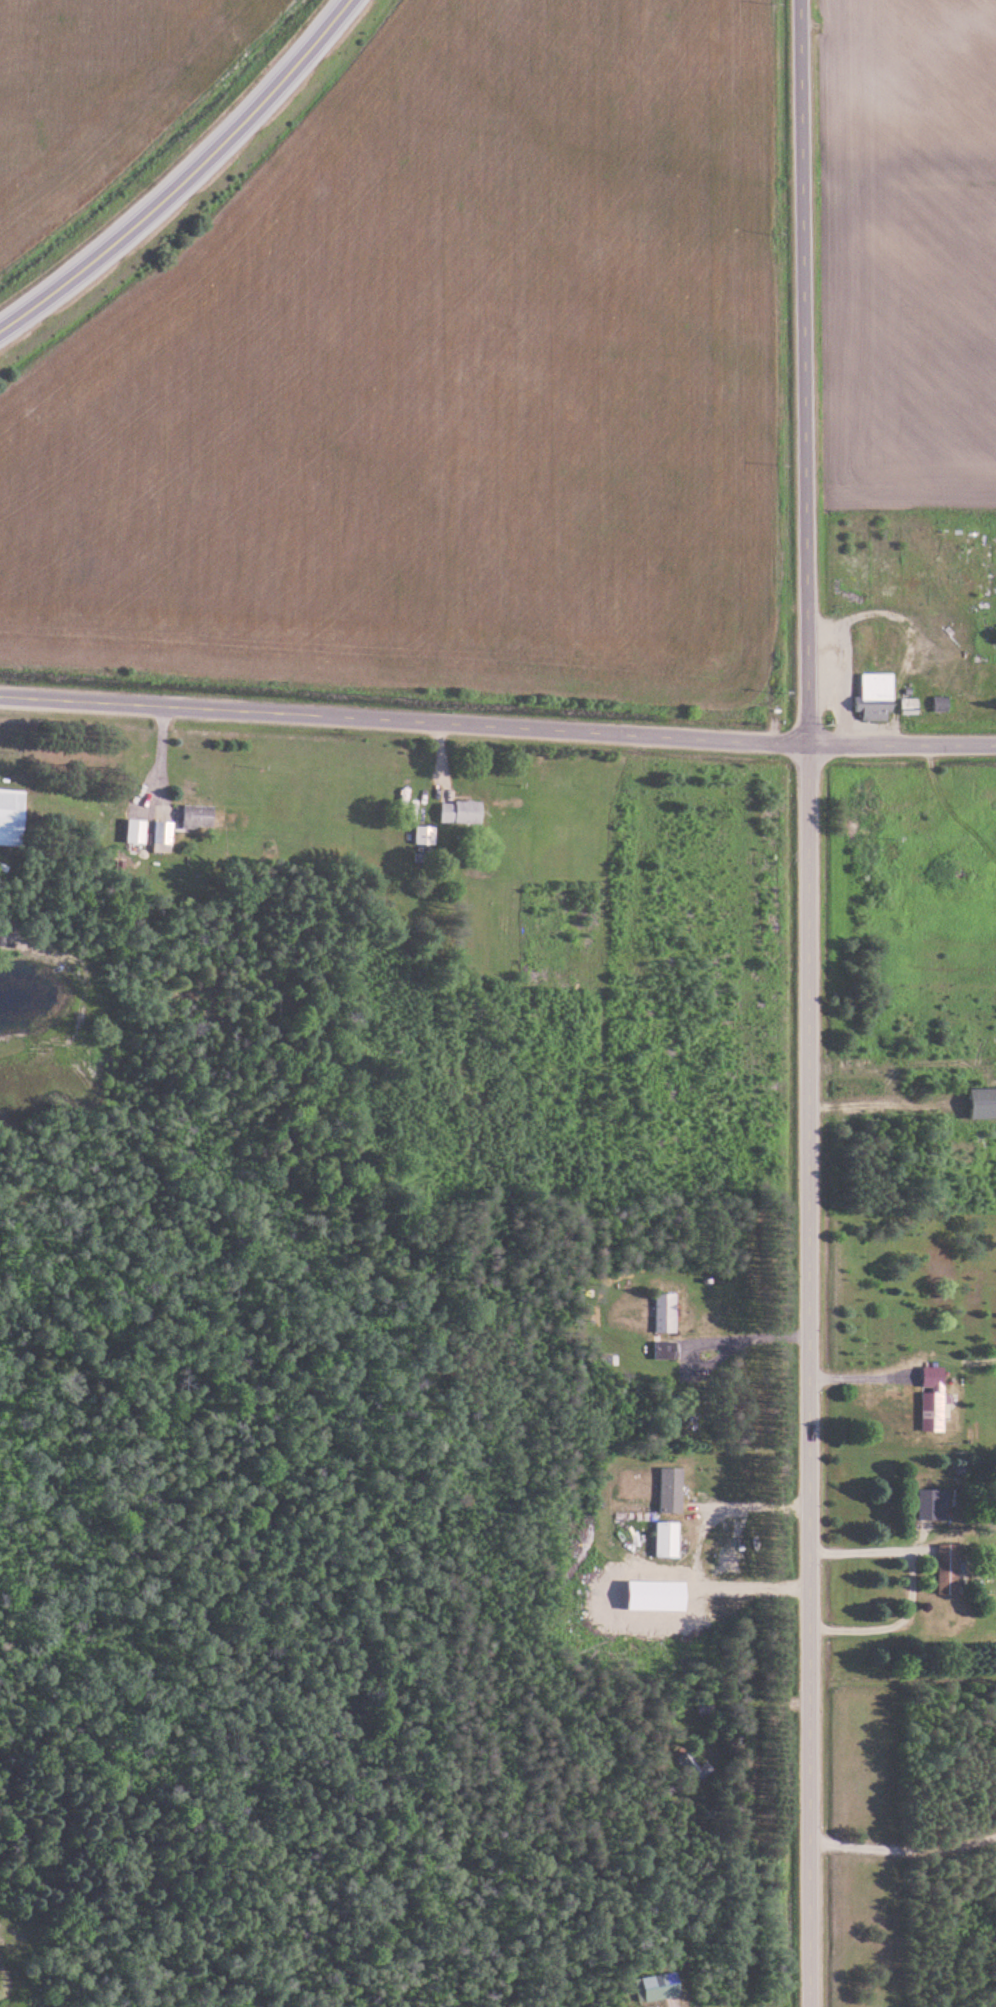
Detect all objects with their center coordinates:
road: (187, 177)
building: (876, 698)
building: (941, 705)
building: (910, 708)
road: (497, 727)
building: (462, 812)
building: (198, 816)
building: (12, 817)
building: (137, 830)
building: (426, 835)
building: (164, 836)
road: (811, 1003)
building: (982, 1095)
building: (666, 1313)
road: (715, 1338)
building: (665, 1350)
building: (932, 1399)
building: (671, 1490)
building: (667, 1540)
building: (948, 1570)
building: (697, 1761)
building: (660, 1987)

